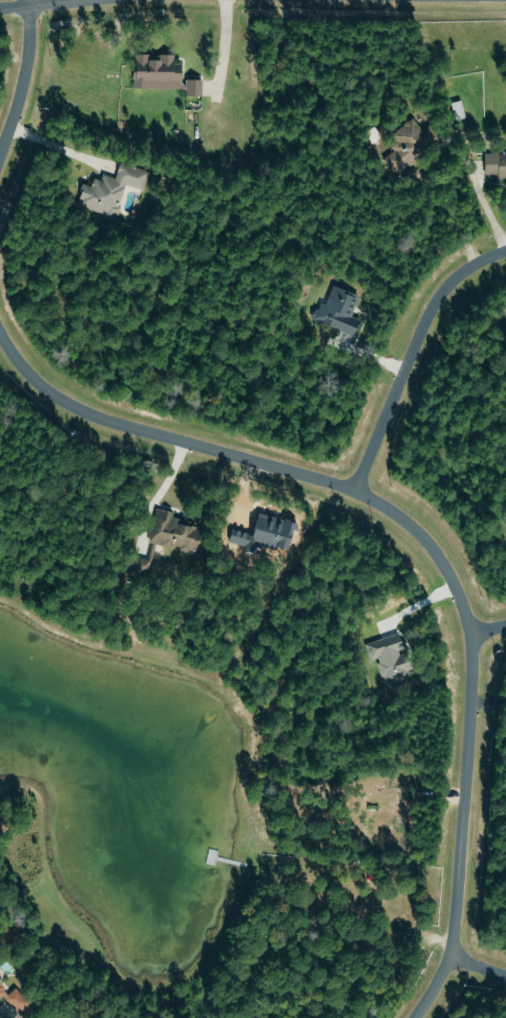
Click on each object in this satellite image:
road: (41, 5)
road: (225, 44)
building: (164, 73)
road: (22, 81)
building: (459, 110)
road: (58, 144)
building: (411, 144)
road: (432, 160)
building: (496, 164)
building: (113, 189)
building: (340, 310)
road: (411, 354)
road: (160, 492)
building: (166, 541)
road: (428, 547)
road: (487, 630)
road: (476, 966)
building: (14, 997)

